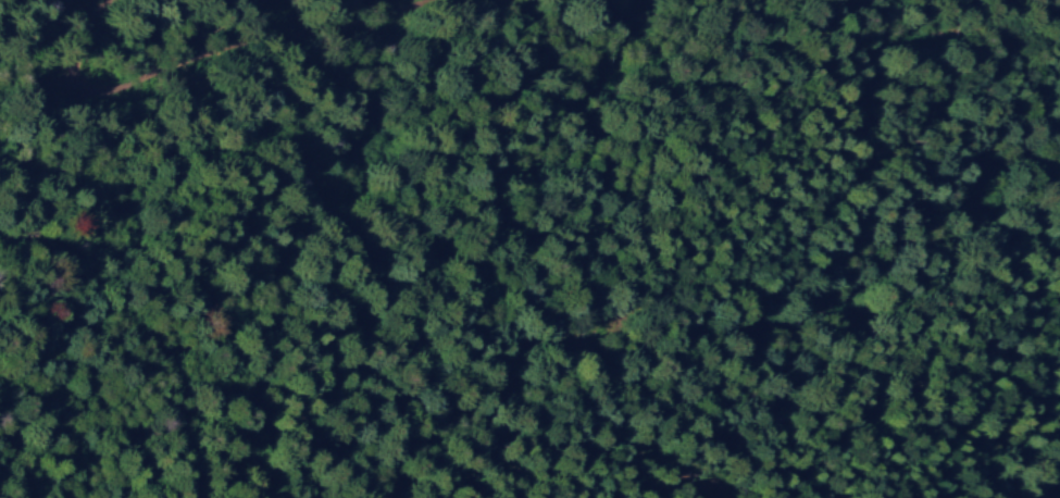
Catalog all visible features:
road: (838, 187)

